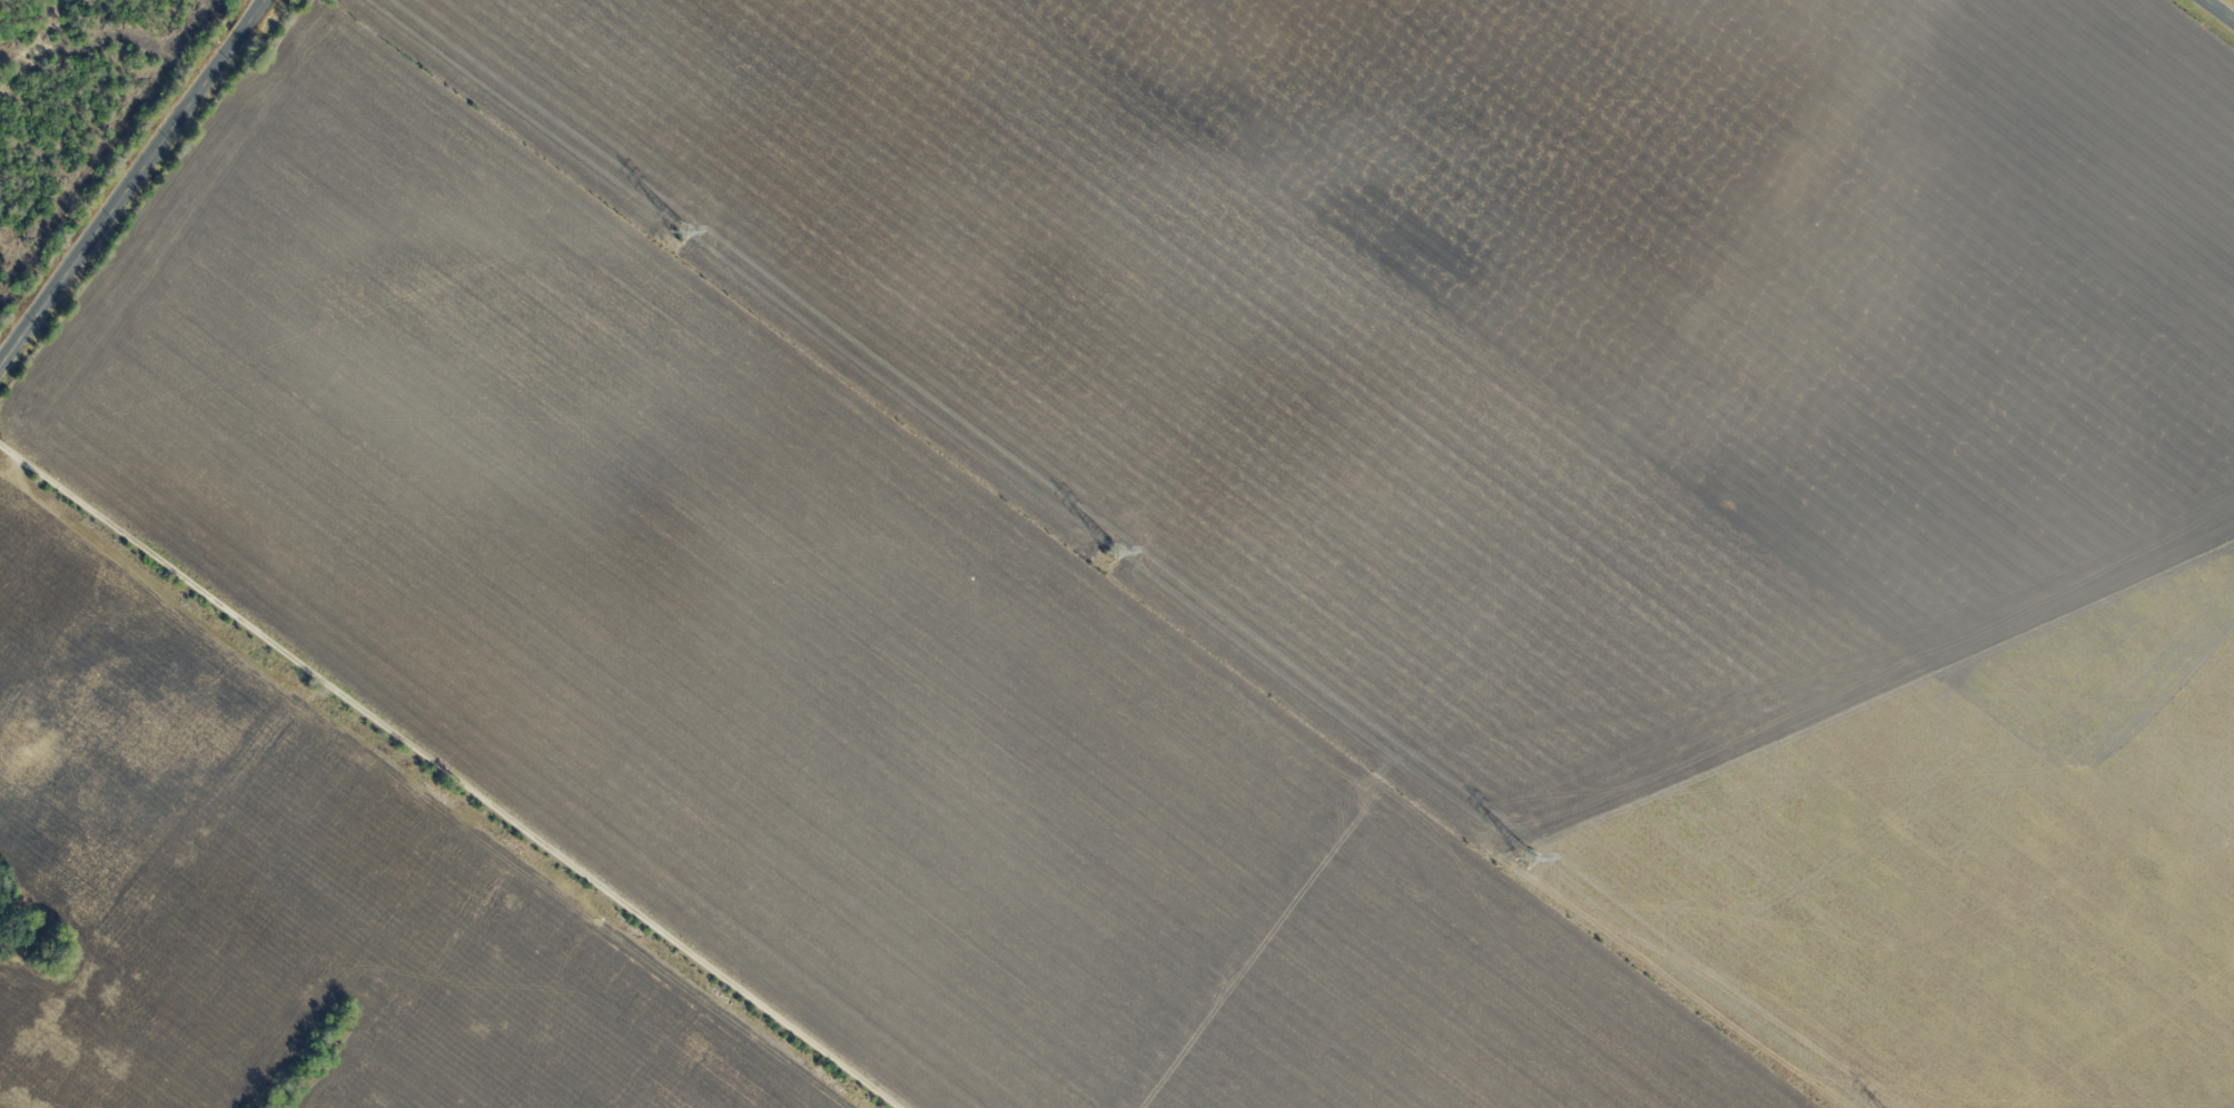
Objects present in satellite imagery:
road: (2220, 10)
road: (131, 182)
power tower: (681, 230)
power tower: (1115, 553)
road: (447, 776)
power tower: (1528, 859)

